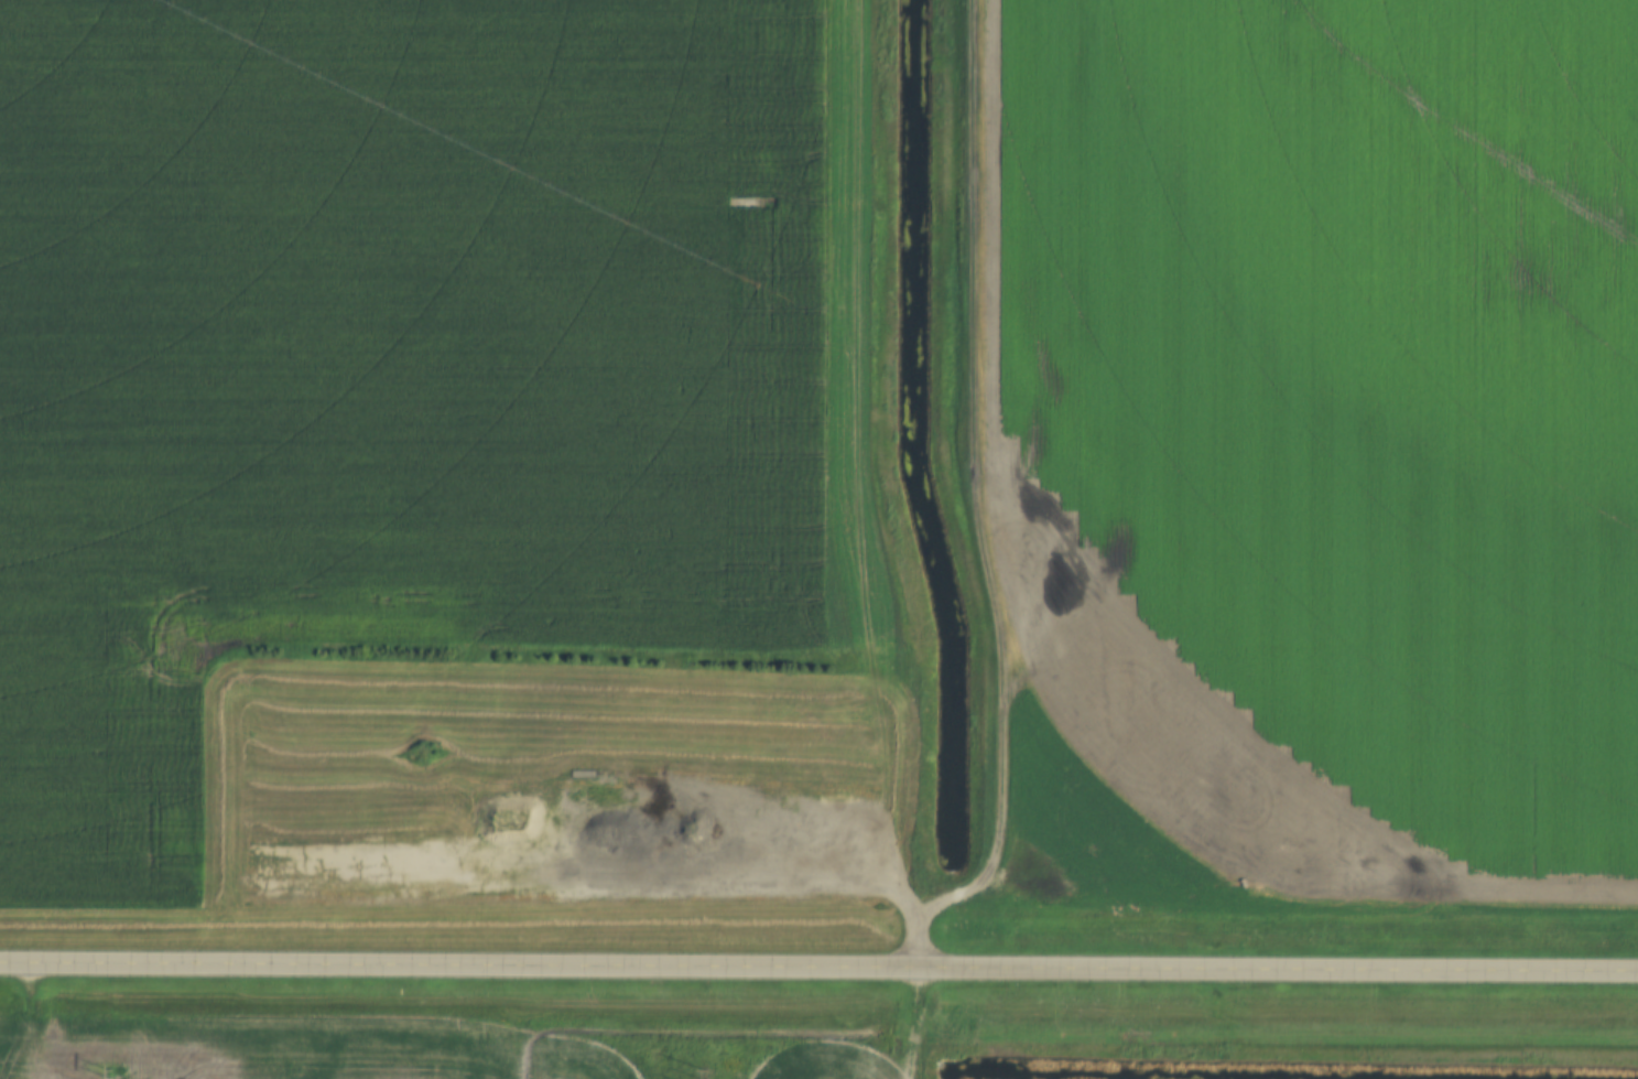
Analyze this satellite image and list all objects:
road: (818, 969)
power tower: (105, 1072)

